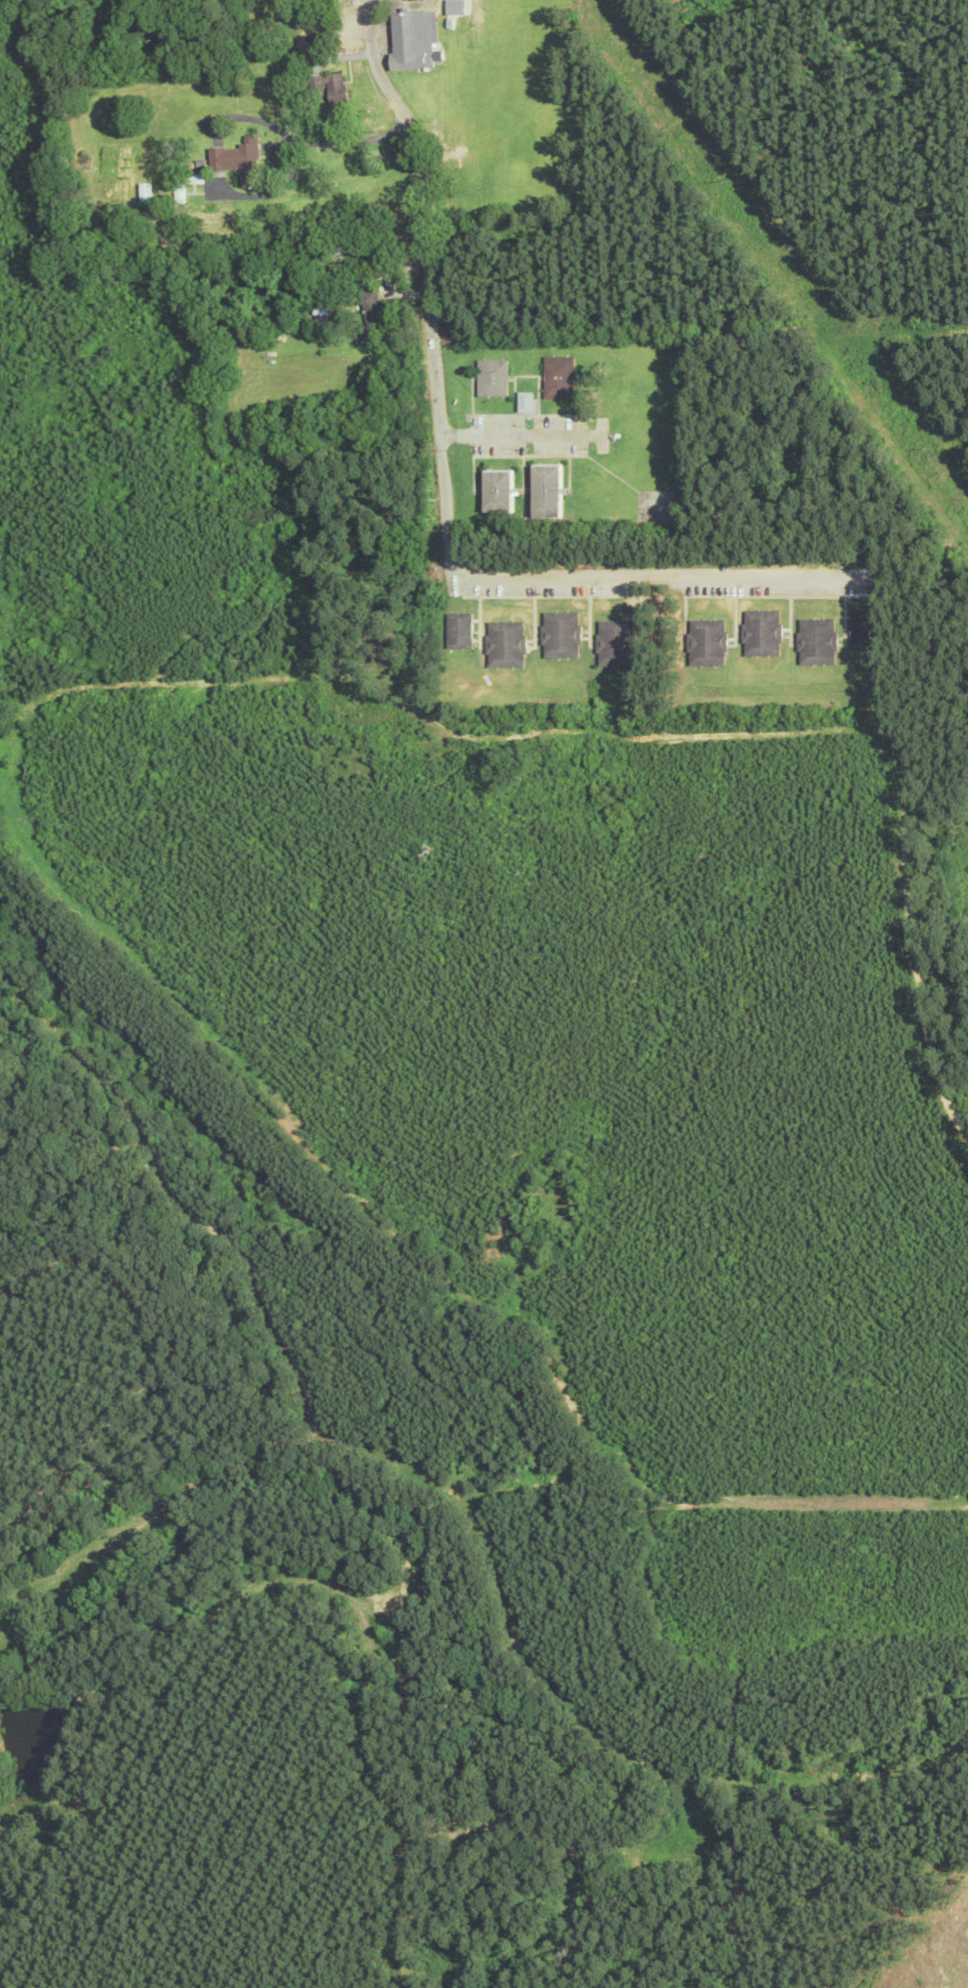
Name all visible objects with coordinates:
building: (414, 39)
building: (315, 40)
building: (332, 86)
road: (336, 139)
building: (239, 160)
building: (145, 192)
road: (429, 283)
building: (373, 310)
building: (559, 377)
building: (492, 378)
building: (525, 402)
road: (539, 434)
road: (456, 435)
building: (497, 491)
building: (546, 491)
road: (663, 576)
building: (863, 627)
building: (458, 631)
building: (762, 633)
building: (560, 634)
building: (816, 641)
building: (707, 642)
building: (615, 643)
building: (505, 644)

